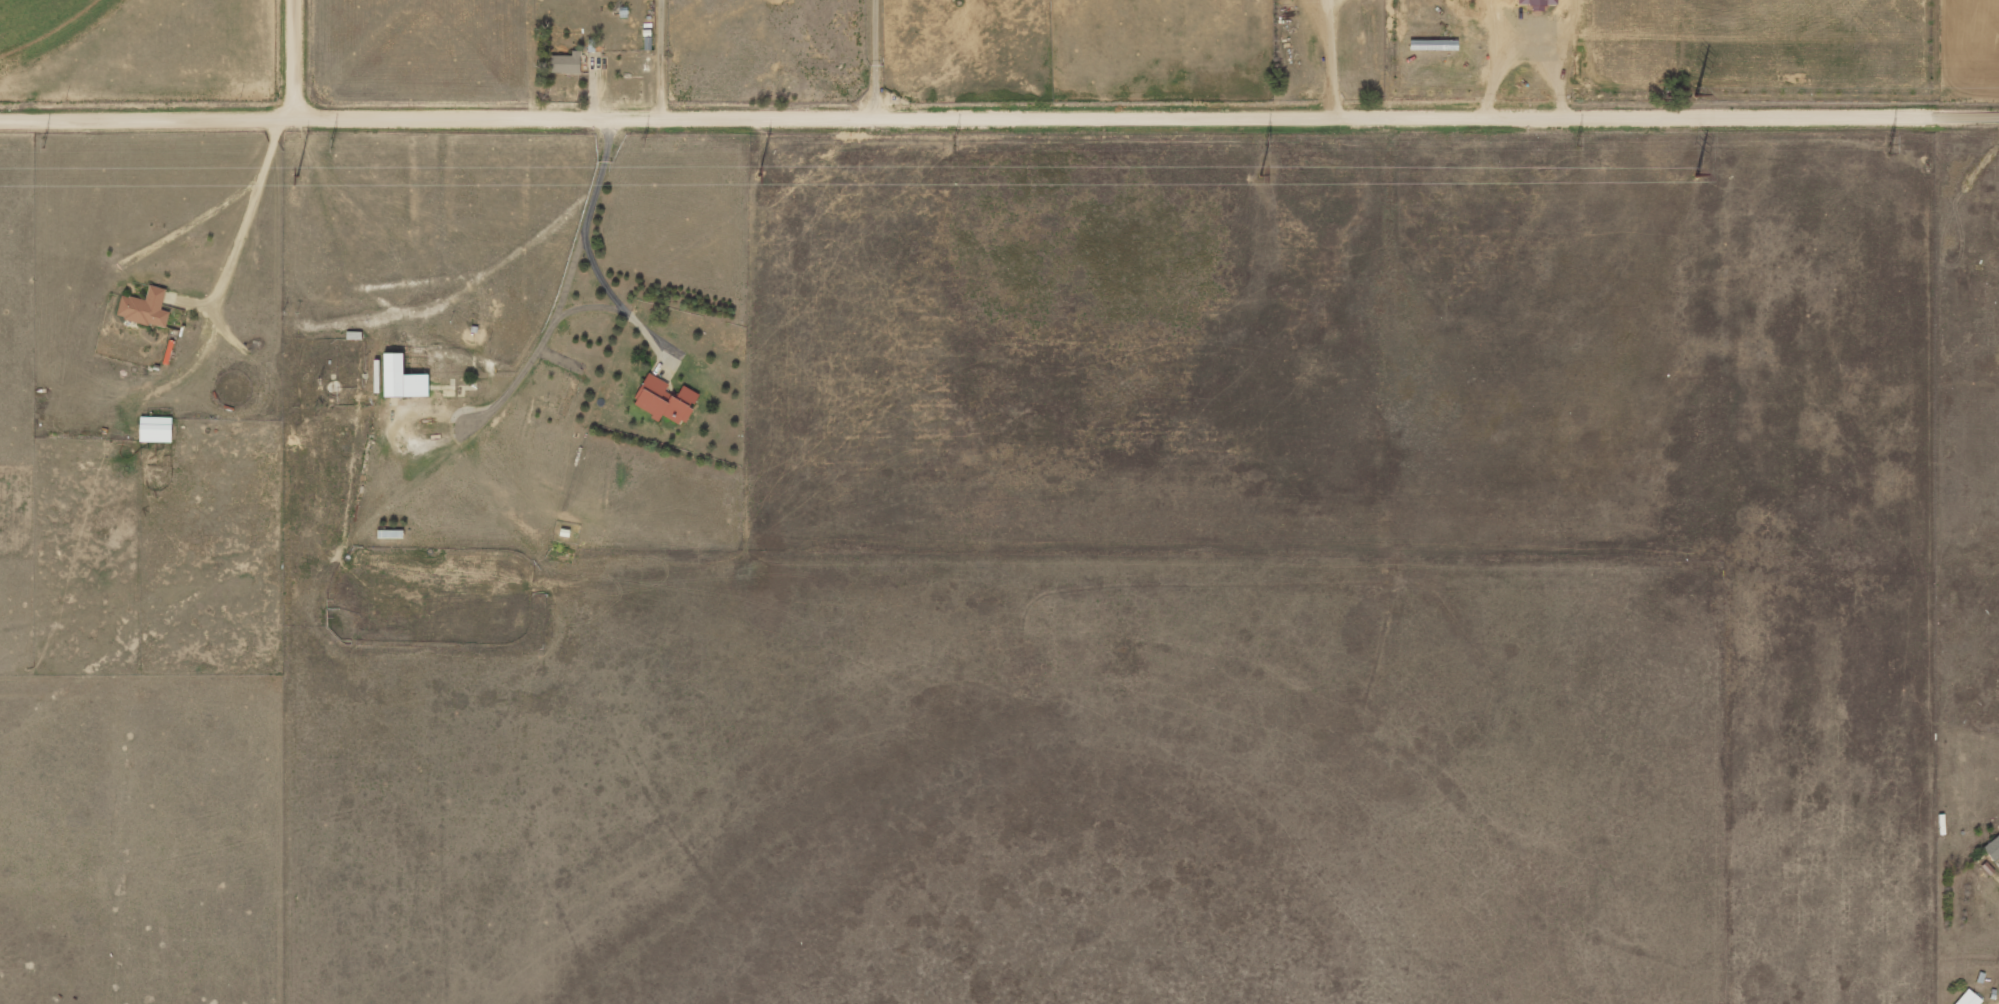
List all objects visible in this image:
building: (1539, 3)
crop: (40, 27)
building: (1434, 45)
road: (295, 58)
building: (567, 63)
power tower: (1693, 95)
road: (999, 115)
power tower: (1266, 137)
power tower: (1576, 140)
power tower: (331, 142)
power tower: (952, 142)
power tower: (642, 143)
power tower: (42, 144)
power tower: (1887, 151)
power tower: (753, 175)
power tower: (1252, 175)
power tower: (294, 176)
power tower: (1691, 177)
road: (247, 210)
building: (145, 308)
building: (355, 335)
building: (403, 379)
building: (665, 400)
building: (156, 429)
building: (1993, 848)
building: (1970, 998)

